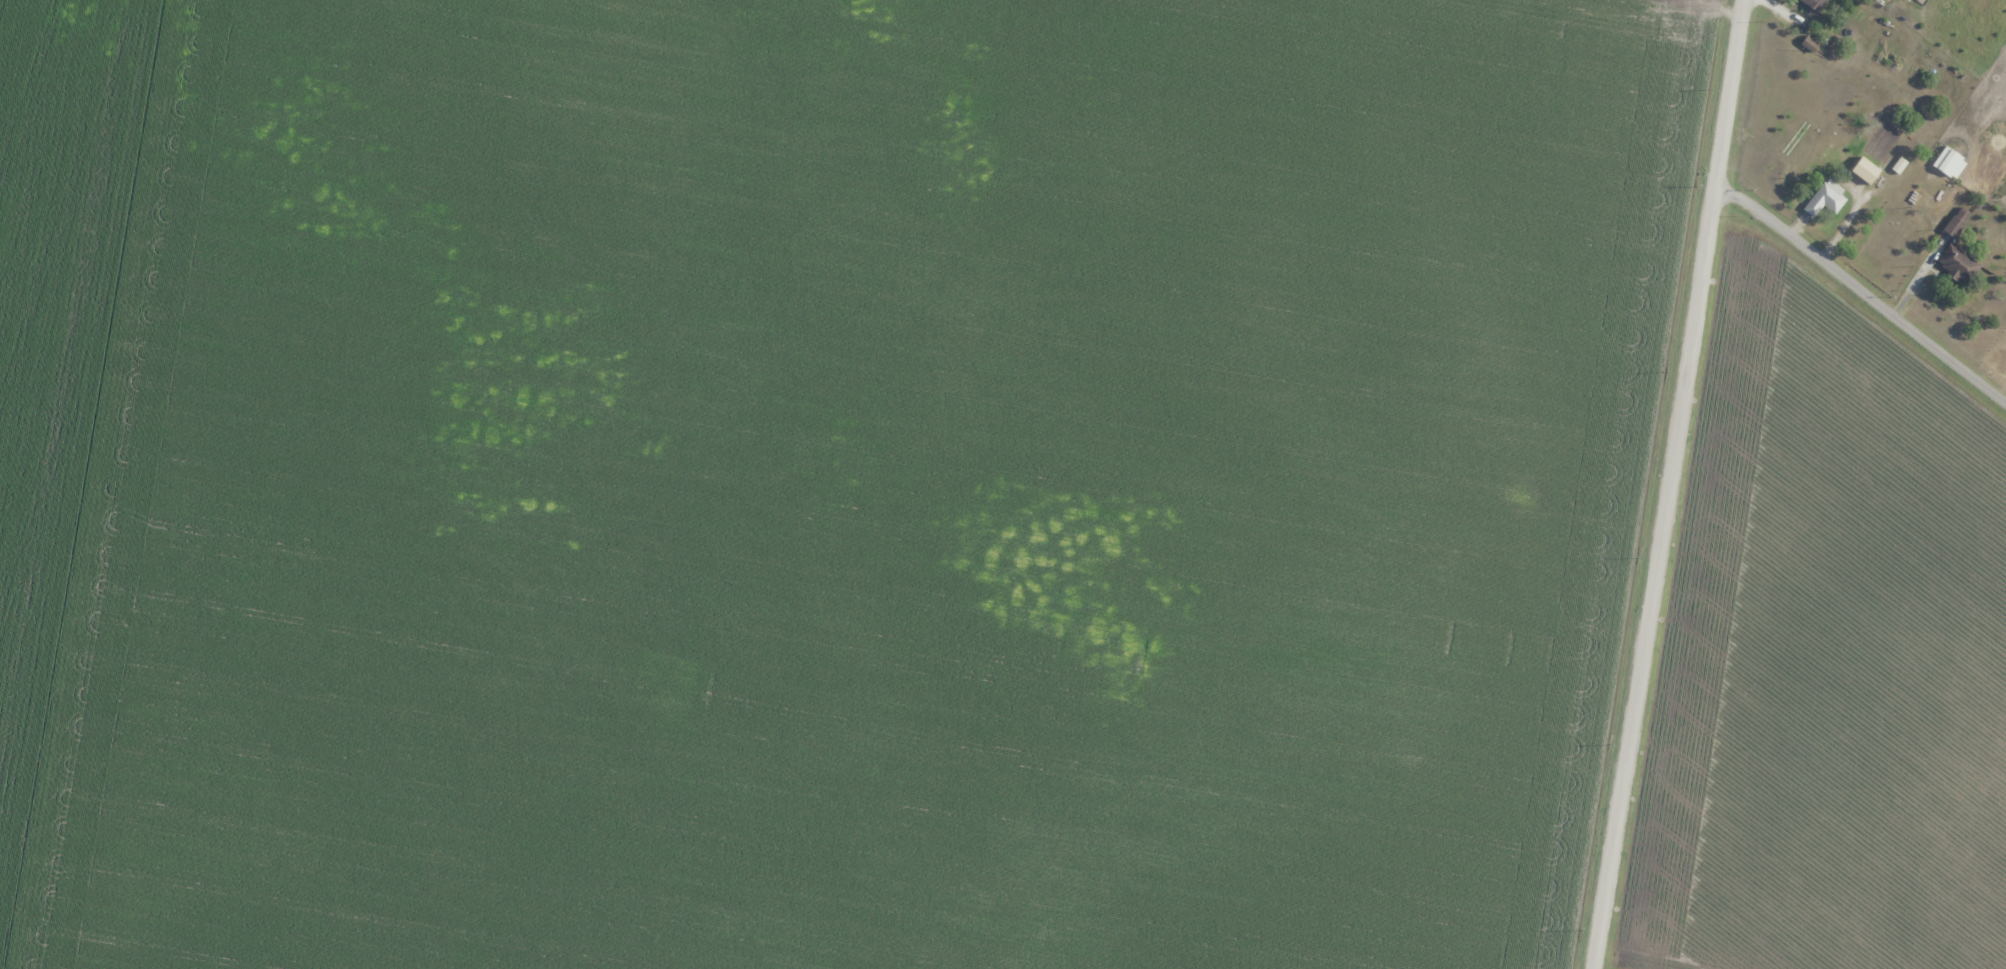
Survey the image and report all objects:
building: (1815, 4)
building: (1795, 139)
building: (1864, 170)
building: (1824, 198)
building: (1956, 221)
building: (1957, 264)
road: (1861, 306)
road: (1672, 484)

